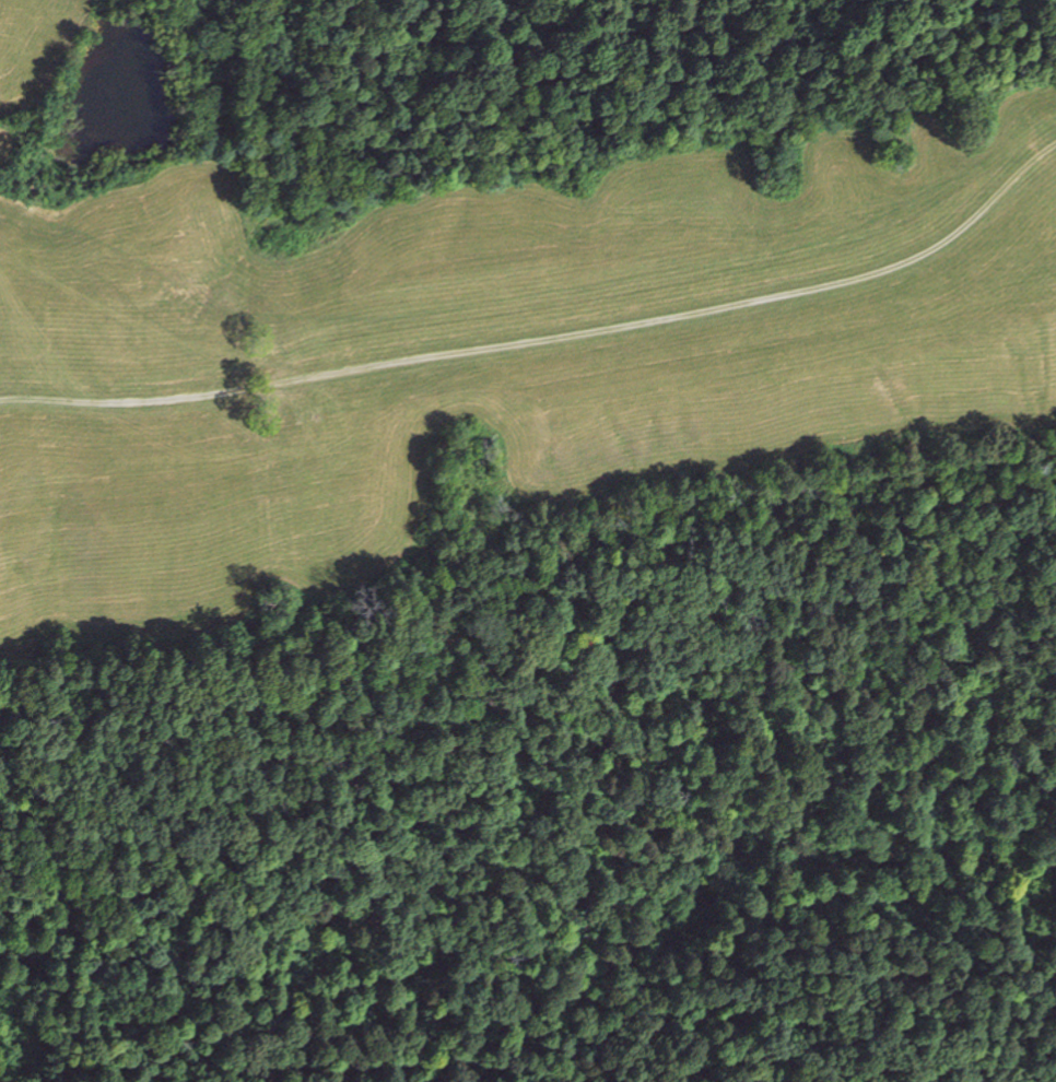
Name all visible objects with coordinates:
road: (526, 552)

